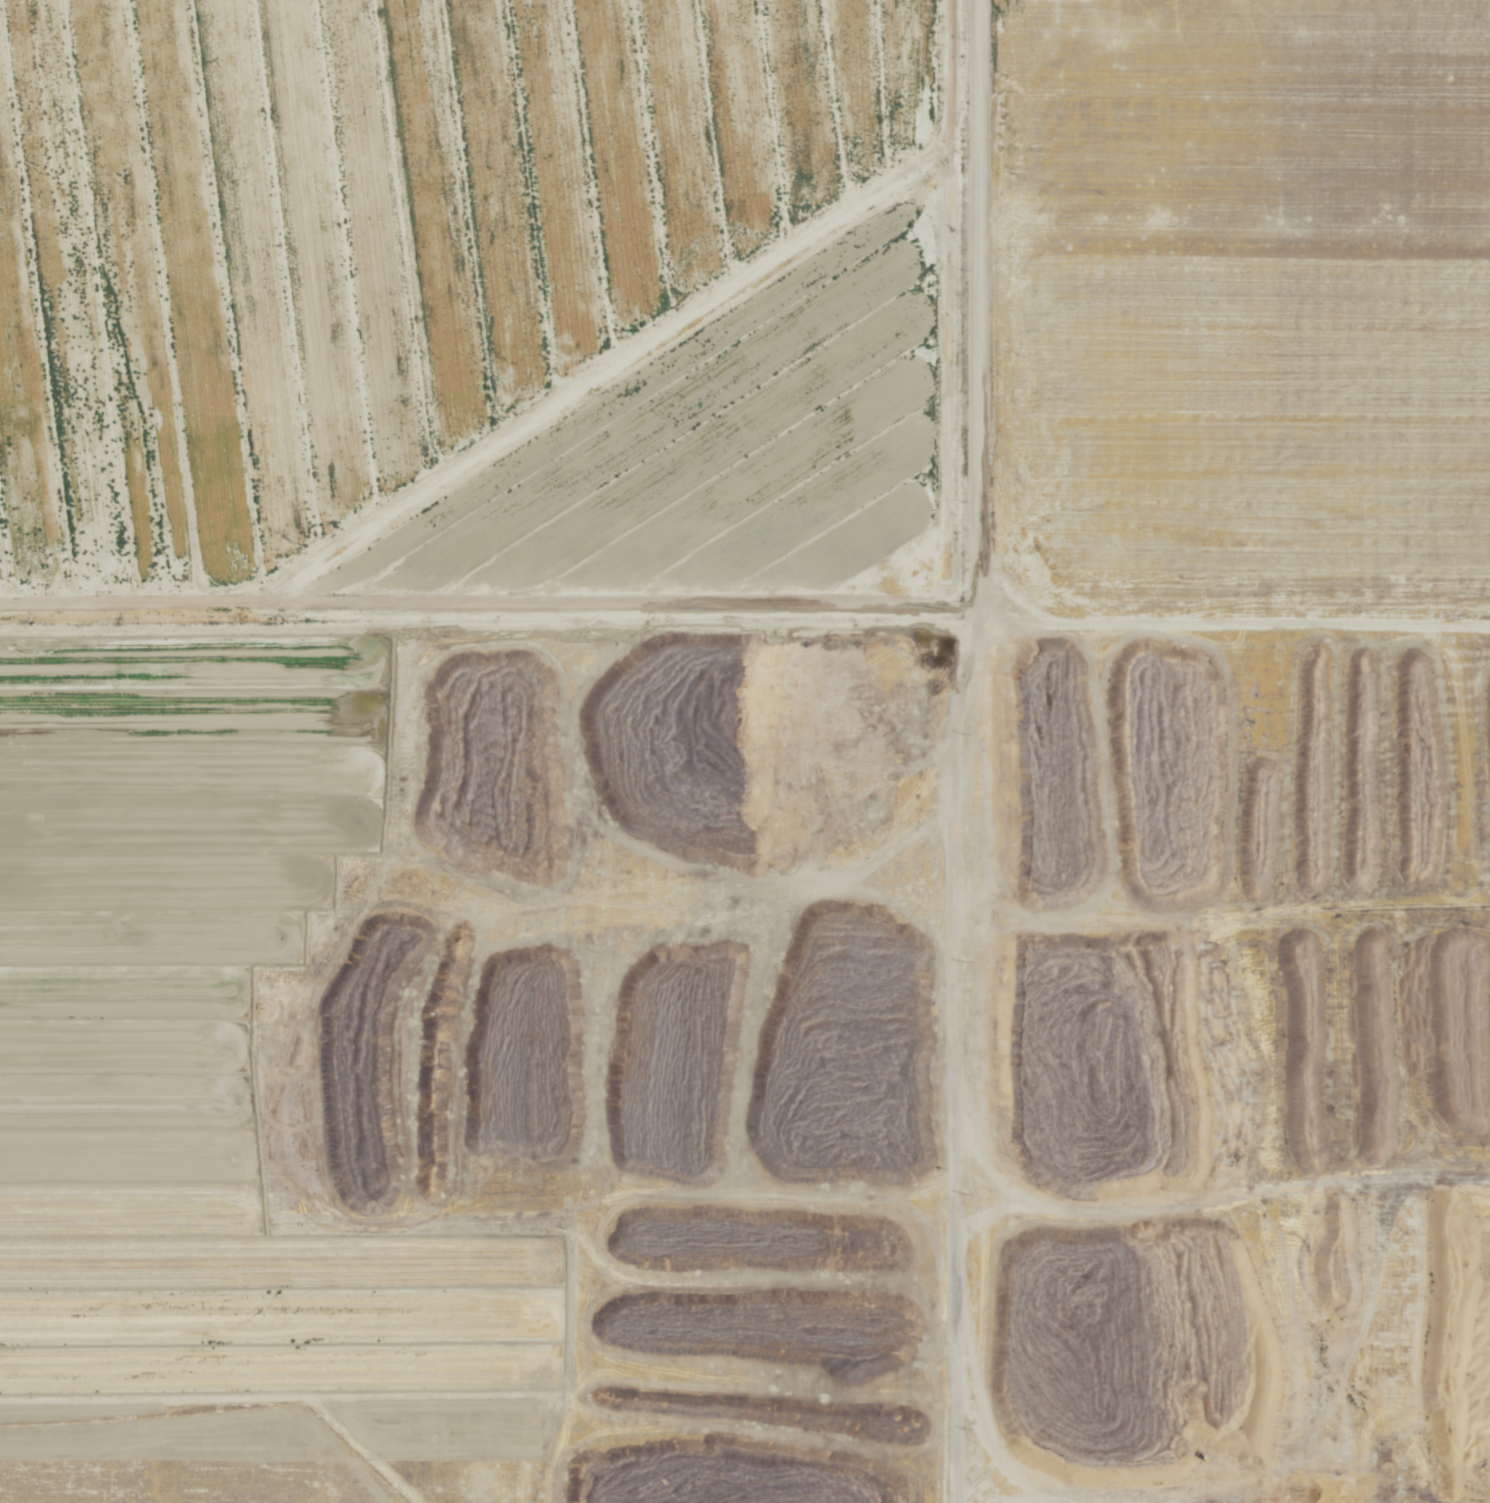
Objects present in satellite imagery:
road: (745, 610)

